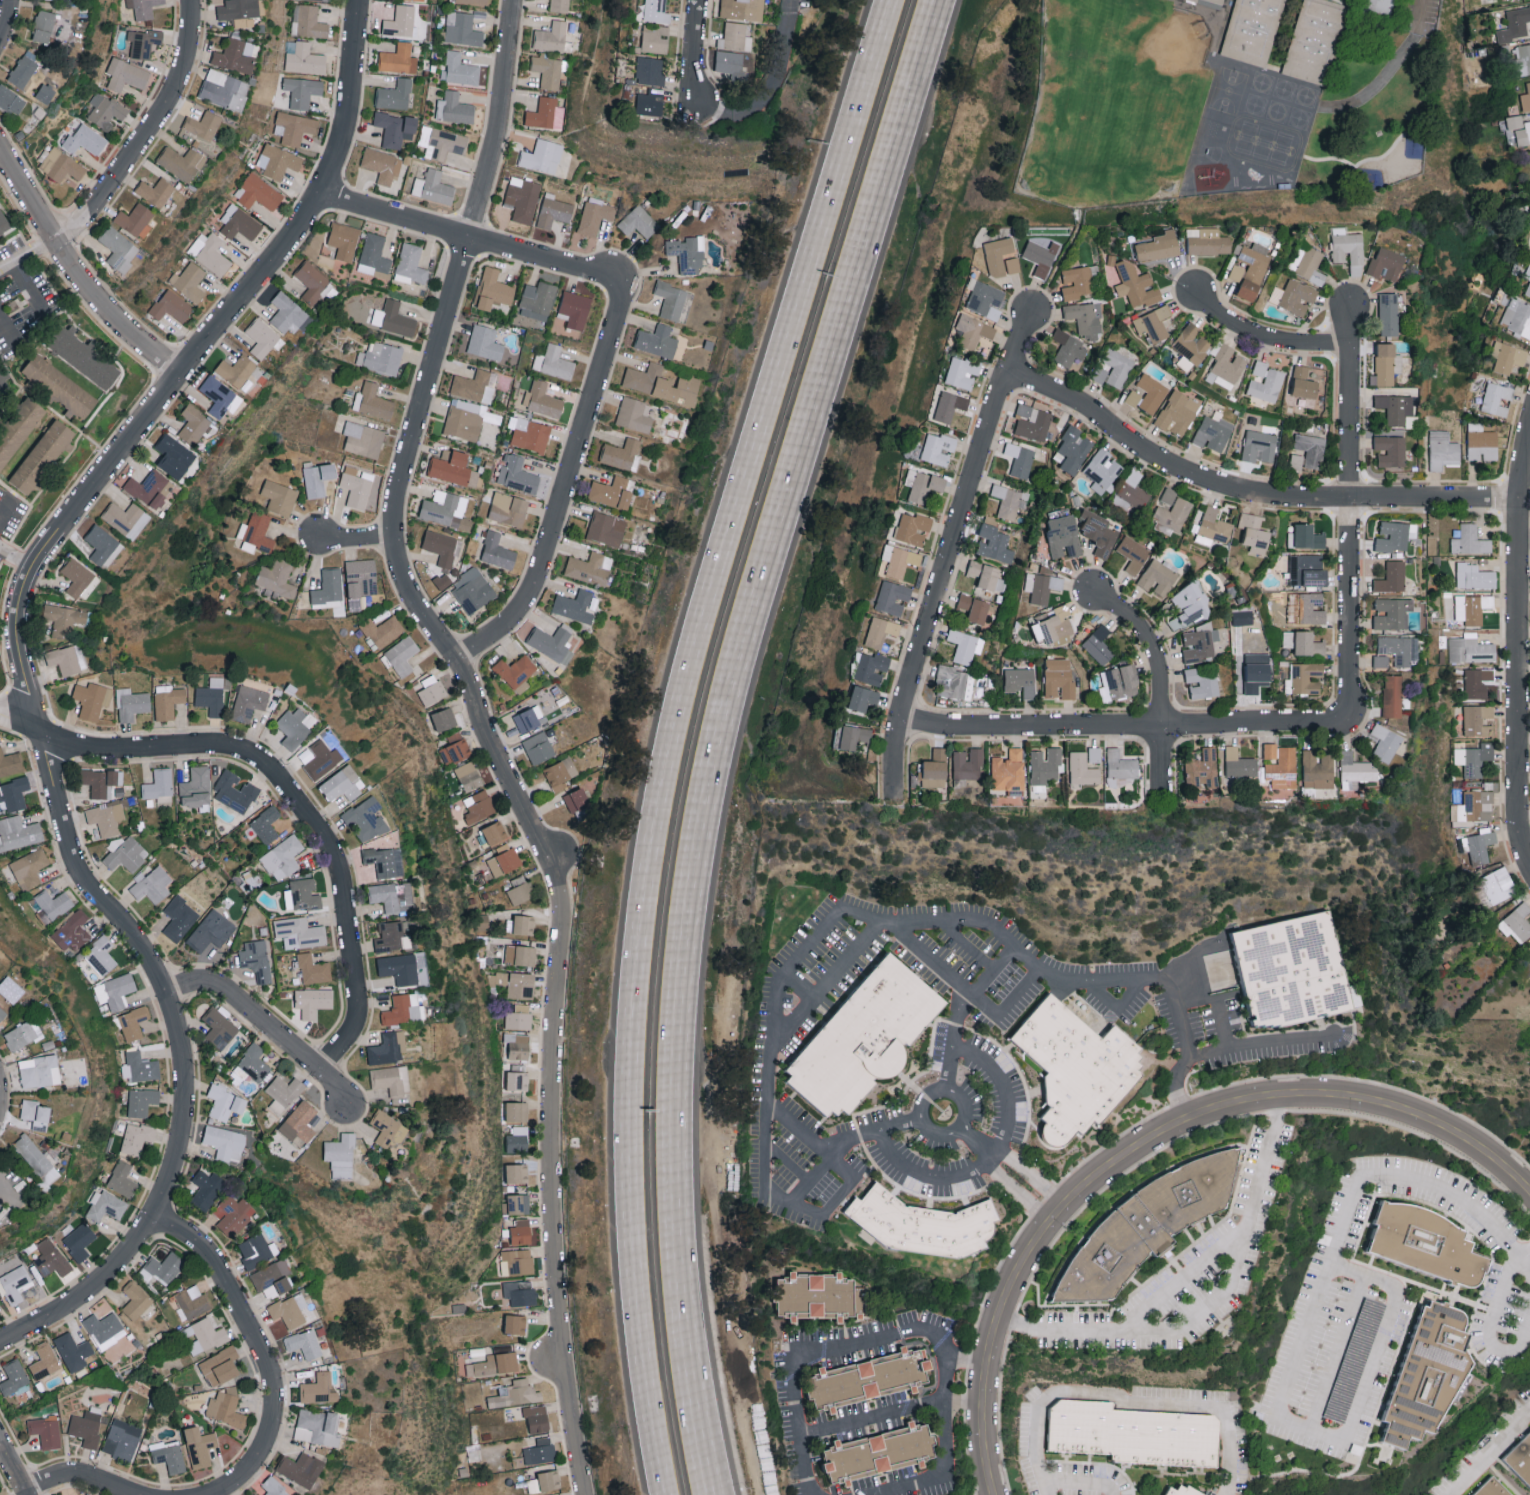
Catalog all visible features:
building: (324, 0)
building: (473, 2)
building: (1210, 3)
building: (559, 5)
road: (53, 6)
building: (143, 7)
building: (741, 9)
building: (1380, 9)
building: (652, 10)
building: (239, 11)
road: (1419, 14)
building: (308, 20)
road: (5, 21)
building: (400, 21)
building: (1514, 24)
building: (43, 25)
building: (461, 28)
building: (733, 36)
building: (551, 37)
building: (652, 38)
building: (1290, 38)
building: (142, 41)
road: (696, 46)
building: (235, 55)
building: (399, 58)
building: (1523, 58)
building: (304, 59)
building: (726, 62)
building: (23, 69)
building: (460, 69)
building: (548, 70)
building: (646, 71)
building: (126, 74)
road: (763, 83)
building: (224, 89)
building: (302, 90)
park: (1227, 90)
building: (44, 92)
building: (395, 94)
building: (1526, 97)
building: (11, 100)
building: (646, 102)
park: (1114, 103)
building: (454, 107)
building: (105, 110)
building: (544, 113)
building: (203, 124)
building: (293, 127)
building: (395, 128)
building: (1516, 130)
road: (147, 131)
building: (85, 139)
building: (444, 143)
building: (542, 156)
building: (278, 161)
building: (181, 162)
building: (61, 164)
building: (382, 164)
building: (432, 186)
building: (156, 191)
building: (258, 192)
building: (522, 199)
building: (553, 210)
building: (595, 215)
building: (3, 222)
building: (239, 222)
building: (638, 222)
road: (468, 235)
building: (343, 240)
building: (1207, 241)
building: (1158, 246)
building: (118, 248)
building: (1348, 248)
building: (210, 252)
building: (688, 253)
building: (374, 256)
building: (1000, 256)
building: (1040, 256)
road: (29, 257)
building: (1307, 263)
building: (410, 264)
building: (1386, 264)
building: (1250, 269)
road: (1054, 270)
road: (76, 271)
building: (1526, 277)
building: (189, 281)
building: (1078, 281)
building: (315, 284)
building: (1136, 284)
building: (492, 288)
road: (28, 289)
building: (1293, 296)
building: (984, 298)
building: (671, 299)
building: (537, 300)
building: (171, 305)
building: (574, 309)
building: (289, 313)
building: (1388, 313)
building: (393, 318)
building: (1084, 318)
building: (1517, 318)
building: (1154, 322)
building: (971, 330)
road: (6, 333)
road: (427, 335)
building: (262, 337)
building: (657, 340)
road: (1265, 340)
building: (485, 342)
building: (1191, 343)
building: (1069, 348)
building: (82, 356)
building: (381, 357)
building: (1506, 357)
building: (553, 362)
building: (1385, 364)
building: (1226, 365)
building: (1117, 366)
building: (1260, 367)
building: (236, 369)
building: (961, 371)
building: (1100, 374)
building: (1, 376)
building: (661, 383)
building: (60, 385)
building: (475, 385)
building: (1266, 385)
building: (1151, 392)
building: (217, 394)
building: (1132, 397)
building: (1495, 398)
building: (542, 399)
building: (372, 401)
building: (948, 405)
building: (1397, 410)
building: (1176, 412)
building: (634, 414)
building: (193, 422)
building: (1032, 422)
building: (18, 429)
building: (1212, 432)
building: (531, 434)
building: (363, 439)
building: (1480, 442)
building: (1259, 446)
building: (937, 448)
building: (1074, 448)
building: (1310, 449)
building: (1390, 450)
building: (1442, 450)
building: (620, 453)
building: (43, 455)
building: (173, 455)
building: (1020, 459)
building: (454, 468)
building: (1102, 470)
building: (517, 474)
building: (317, 477)
road: (564, 484)
building: (922, 484)
building: (357, 486)
building: (149, 487)
building: (1134, 490)
road: (1247, 492)
building: (612, 493)
building: (279, 497)
building: (1010, 500)
road: (1349, 506)
building: (508, 508)
road: (5, 509)
building: (444, 510)
building: (1171, 512)
building: (126, 518)
building: (1212, 527)
building: (913, 528)
building: (606, 529)
building: (1099, 532)
building: (256, 533)
building: (1254, 533)
building: (1394, 535)
road: (355, 536)
building: (1063, 536)
building: (1308, 536)
building: (1469, 541)
building: (994, 543)
building: (103, 546)
building: (442, 547)
building: (497, 551)
road: (950, 552)
building: (1133, 553)
road: (16, 554)
building: (898, 560)
building: (589, 568)
building: (1307, 570)
building: (987, 575)
building: (77, 576)
building: (1474, 576)
building: (361, 577)
building: (1158, 577)
building: (1391, 577)
building: (277, 578)
building: (442, 580)
building: (1041, 586)
building: (328, 589)
building: (473, 590)
building: (891, 597)
road: (507, 601)
building: (1191, 603)
building: (574, 605)
building: (974, 607)
building: (1306, 607)
building: (1472, 608)
building: (1391, 613)
building: (1242, 617)
building: (63, 618)
building: (1053, 625)
building: (382, 629)
building: (879, 631)
road: (1520, 635)
building: (551, 642)
building: (1303, 642)
building: (1200, 643)
building: (965, 645)
building: (1098, 645)
building: (1395, 649)
building: (1470, 649)
building: (401, 655)
building: (1379, 661)
building: (871, 667)
building: (1256, 671)
building: (516, 672)
road: (26, 677)
building: (1058, 677)
building: (1305, 677)
building: (954, 681)
building: (1021, 681)
building: (1202, 681)
building: (1119, 682)
road: (1160, 682)
building: (1477, 682)
building: (432, 689)
building: (1391, 695)
building: (210, 696)
building: (862, 698)
building: (91, 699)
building: (167, 700)
building: (248, 702)
building: (131, 703)
building: (444, 718)
building: (529, 718)
building: (1478, 719)
building: (295, 725)
road: (1129, 725)
road: (674, 734)
road: (720, 734)
building: (852, 736)
road: (485, 737)
building: (1385, 743)
building: (538, 747)
building: (455, 748)
building: (1269, 750)
building: (1094, 754)
building: (1473, 758)
building: (321, 759)
building: (11, 763)
building: (1239, 763)
building: (966, 764)
building: (1044, 765)
building: (1120, 767)
building: (1283, 768)
building: (933, 769)
building: (1082, 769)
building: (1202, 769)
building: (1317, 769)
building: (1008, 770)
building: (1355, 770)
building: (560, 773)
building: (469, 775)
building: (99, 782)
building: (342, 784)
building: (159, 786)
building: (196, 787)
road: (288, 790)
building: (234, 791)
building: (14, 793)
building: (576, 800)
building: (479, 805)
building: (1474, 806)
building: (106, 818)
building: (365, 819)
building: (266, 824)
building: (18, 832)
building: (494, 832)
building: (113, 844)
building: (1480, 846)
road: (1525, 850)
building: (127, 854)
building: (282, 857)
building: (384, 861)
building: (504, 862)
building: (29, 868)
building: (1497, 884)
building: (153, 885)
building: (520, 889)
building: (302, 894)
building: (385, 896)
building: (52, 905)
building: (179, 918)
building: (1516, 923)
building: (523, 924)
building: (72, 931)
building: (211, 931)
building: (299, 932)
building: (390, 936)
road: (966, 943)
building: (101, 955)
building: (520, 955)
building: (256, 959)
road: (791, 962)
building: (399, 968)
building: (313, 969)
road: (825, 977)
building: (1295, 979)
building: (515, 983)
road: (795, 985)
building: (115, 991)
road: (967, 991)
road: (1195, 999)
building: (313, 1001)
road: (958, 1004)
road: (1119, 1005)
building: (3, 1009)
building: (403, 1009)
building: (519, 1017)
building: (133, 1022)
road: (266, 1026)
building: (219, 1028)
building: (20, 1035)
building: (860, 1042)
road: (1260, 1042)
building: (518, 1045)
building: (387, 1048)
building: (254, 1062)
building: (140, 1066)
building: (39, 1071)
building: (390, 1079)
building: (517, 1080)
building: (1081, 1081)
road: (1173, 1084)
road: (937, 1086)
building: (283, 1093)
road: (4, 1096)
building: (142, 1101)
building: (224, 1102)
building: (34, 1111)
building: (517, 1111)
building: (299, 1122)
building: (388, 1128)
road: (1145, 1137)
building: (136, 1138)
building: (518, 1139)
road: (977, 1141)
building: (225, 1142)
road: (843, 1142)
road: (993, 1152)
building: (341, 1155)
building: (36, 1161)
road: (787, 1161)
building: (517, 1173)
road: (1029, 1175)
road: (1403, 1178)
building: (122, 1179)
building: (206, 1188)
road: (1017, 1190)
building: (518, 1203)
building: (105, 1206)
building: (232, 1214)
building: (521, 1231)
building: (926, 1233)
building: (1148, 1235)
building: (79, 1241)
building: (1427, 1244)
building: (256, 1250)
road: (1522, 1250)
building: (51, 1258)
building: (517, 1261)
road: (1522, 1263)
building: (165, 1266)
road: (1184, 1272)
building: (272, 1278)
building: (14, 1283)
building: (520, 1292)
building: (818, 1296)
building: (135, 1299)
road: (1211, 1299)
building: (193, 1301)
building: (289, 1309)
building: (515, 1323)
road: (1487, 1324)
building: (103, 1326)
building: (206, 1335)
building: (304, 1342)
road: (259, 1348)
road: (1334, 1350)
building: (73, 1351)
road: (796, 1354)
road: (970, 1356)
building: (44, 1360)
building: (494, 1363)
building: (220, 1365)
building: (1429, 1374)
building: (868, 1377)
building: (14, 1378)
building: (318, 1389)
building: (515, 1393)
road: (1128, 1399)
road: (940, 1402)
building: (225, 1408)
road: (870, 1416)
building: (473, 1417)
building: (536, 1417)
building: (317, 1426)
building: (86, 1427)
building: (46, 1430)
road: (1343, 1435)
building: (122, 1439)
building: (1137, 1443)
building: (199, 1445)
building: (540, 1450)
building: (473, 1452)
building: (879, 1452)
building: (168, 1455)
road: (1488, 1458)
building: (1521, 1458)
road: (14, 1467)
building: (301, 1468)
road: (82, 1473)
road: (1082, 1477)
road: (897, 1483)
building: (274, 1486)
building: (1492, 1487)
building: (1183, 1490)

